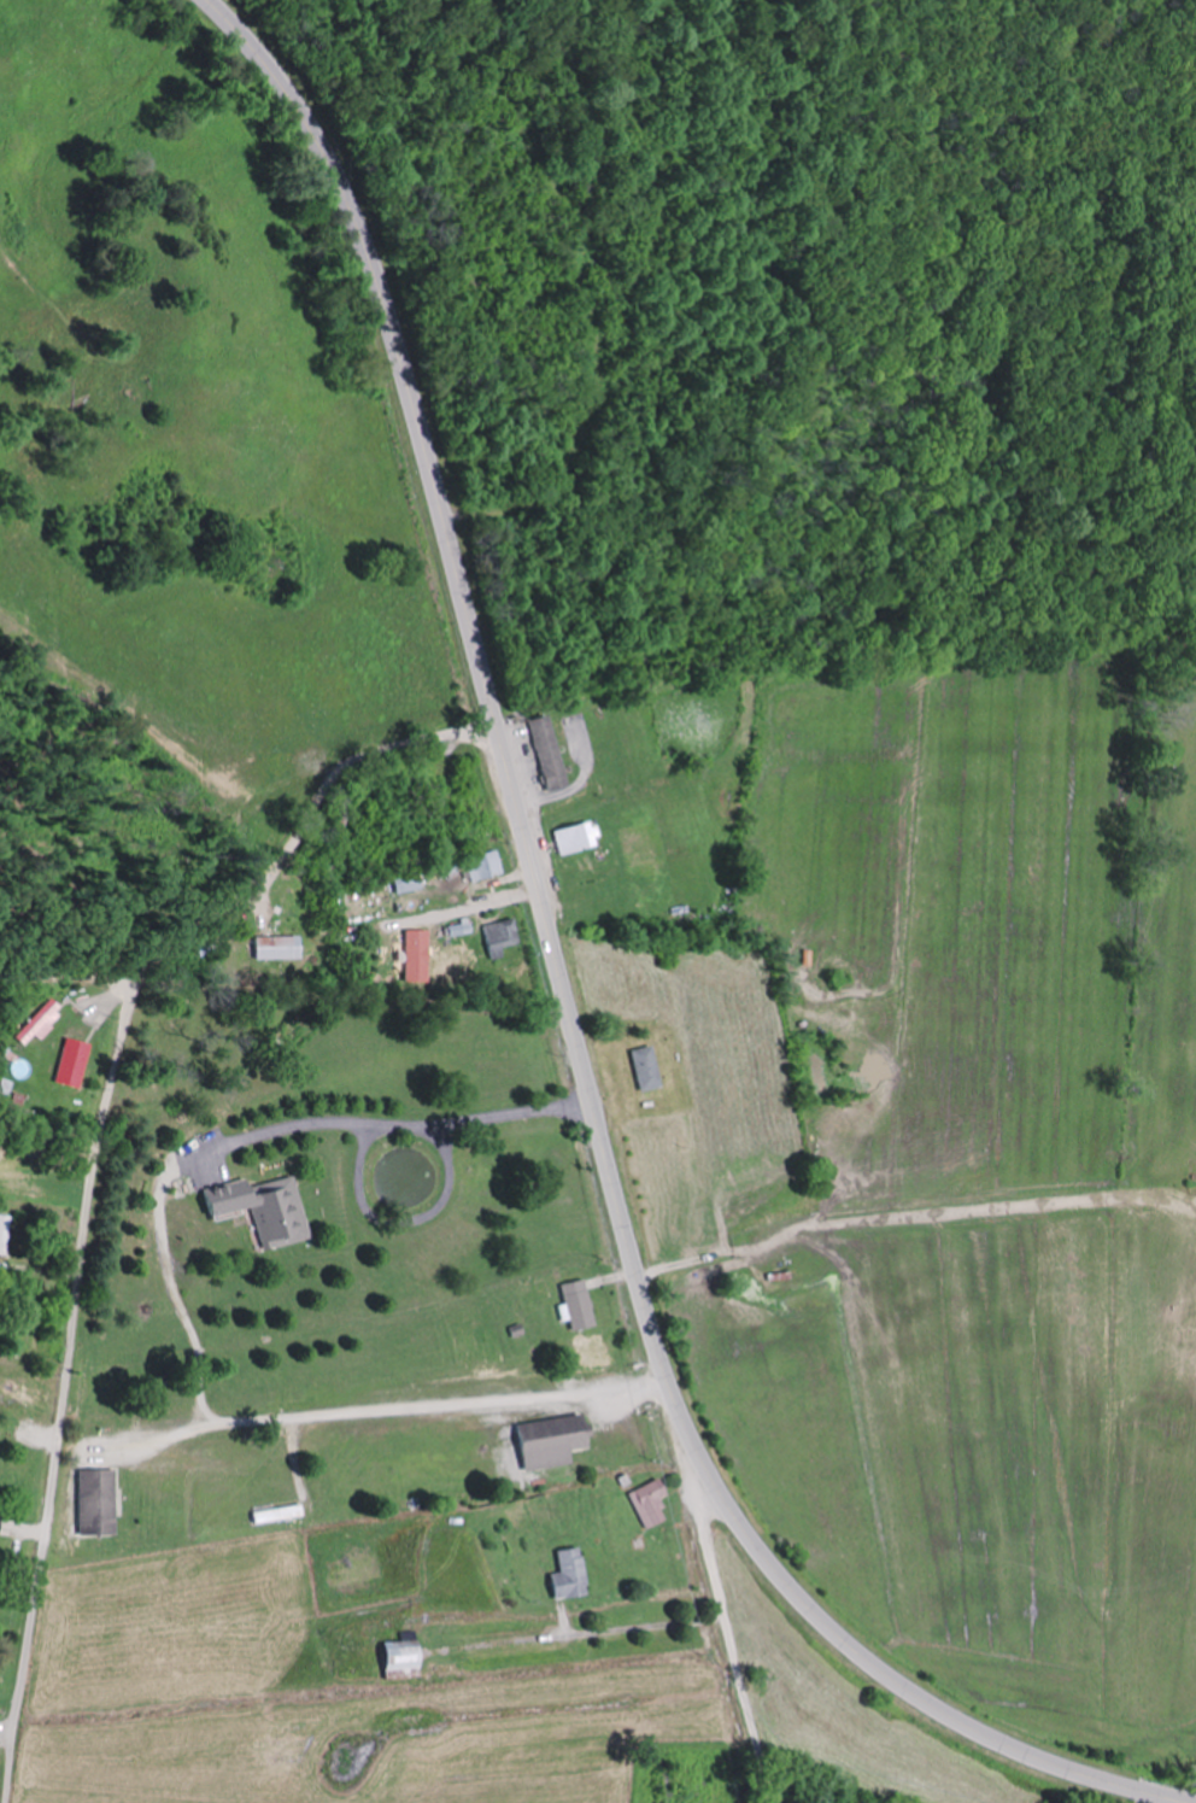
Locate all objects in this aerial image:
building: (543, 754)
building: (392, 806)
building: (335, 821)
building: (573, 837)
building: (482, 865)
building: (404, 884)
building: (410, 903)
building: (498, 937)
building: (270, 942)
road: (565, 1006)
building: (41, 1021)
building: (69, 1064)
building: (643, 1069)
road: (386, 1122)
road: (94, 1163)
building: (262, 1208)
building: (2, 1233)
road: (168, 1286)
building: (533, 1293)
building: (574, 1305)
road: (359, 1409)
building: (546, 1440)
building: (94, 1500)
building: (647, 1501)
building: (567, 1574)
road: (735, 1632)
building: (398, 1657)
building: (690, 1787)

